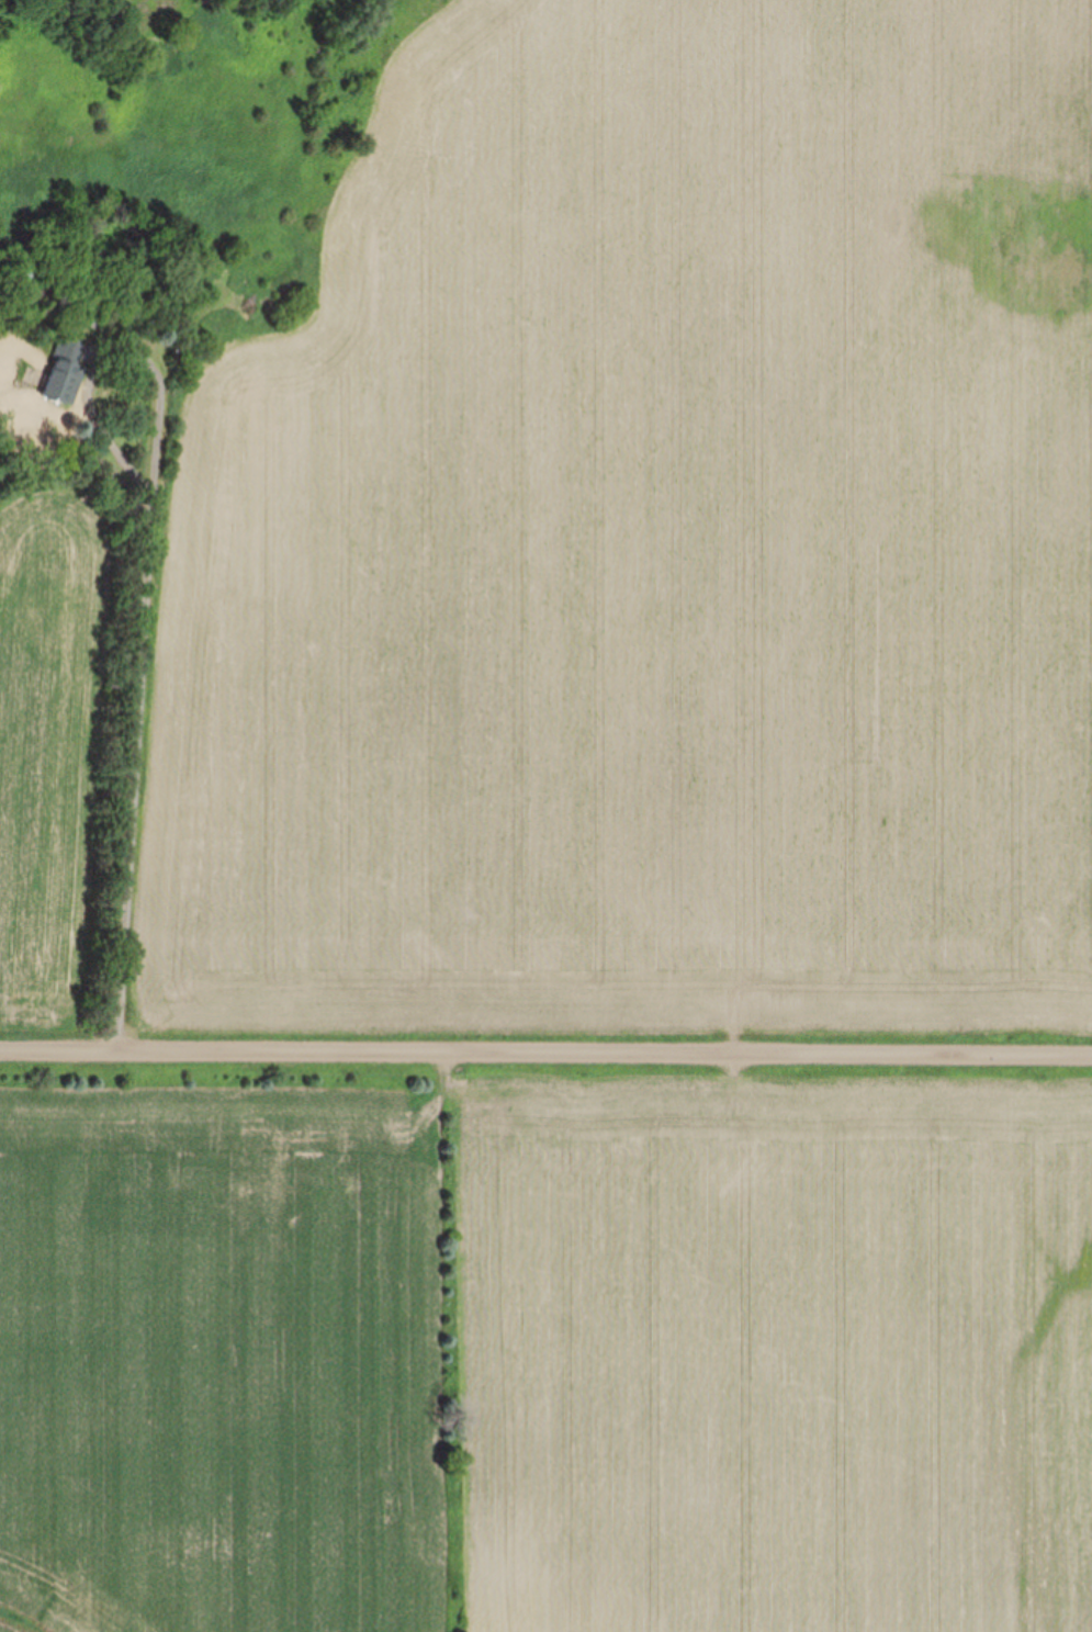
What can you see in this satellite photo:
building: (22, 284)
building: (64, 372)
road: (140, 667)
road: (545, 1053)

